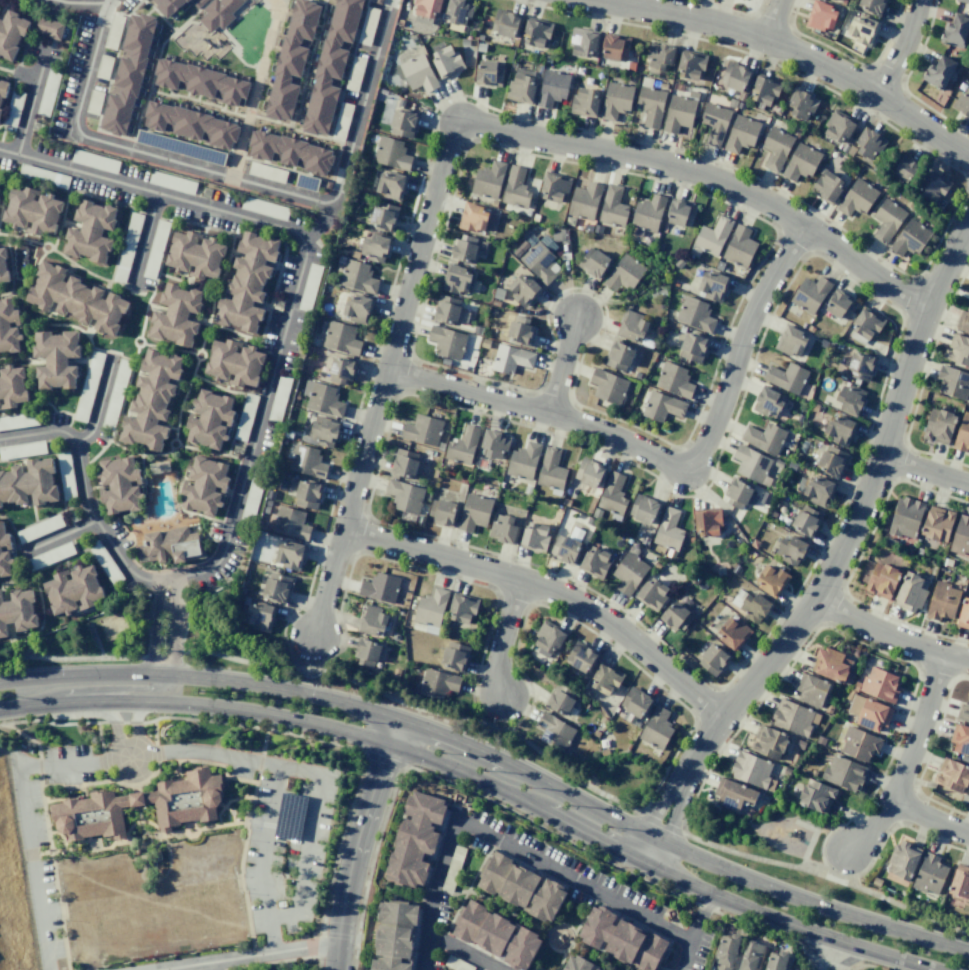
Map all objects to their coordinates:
road: (274, 0)
road: (320, 1)
building: (964, 1)
road: (82, 2)
road: (151, 5)
building: (167, 6)
building: (871, 6)
road: (732, 9)
building: (425, 10)
building: (459, 11)
building: (217, 13)
building: (821, 15)
road: (772, 20)
building: (505, 23)
building: (49, 28)
building: (861, 30)
building: (955, 31)
building: (536, 33)
building: (11, 35)
building: (583, 43)
building: (615, 47)
road: (900, 49)
road: (796, 52)
road: (750, 54)
building: (660, 56)
road: (849, 58)
building: (290, 60)
road: (308, 61)
building: (446, 61)
road: (155, 65)
building: (690, 65)
building: (330, 67)
building: (938, 72)
building: (128, 73)
building: (418, 73)
building: (489, 73)
building: (734, 76)
building: (199, 80)
road: (903, 81)
building: (522, 86)
road: (256, 88)
building: (552, 88)
building: (1, 90)
building: (764, 90)
building: (616, 100)
road: (31, 101)
road: (198, 101)
building: (584, 101)
building: (962, 103)
building: (651, 105)
building: (802, 105)
building: (680, 113)
building: (402, 123)
building: (715, 123)
building: (191, 124)
building: (839, 127)
road: (296, 131)
building: (741, 133)
road: (456, 135)
building: (870, 144)
building: (775, 148)
building: (290, 152)
building: (391, 153)
building: (801, 162)
building: (904, 168)
road: (289, 169)
road: (239, 179)
building: (488, 180)
building: (306, 182)
building: (390, 185)
building: (828, 187)
building: (932, 187)
building: (515, 188)
building: (554, 188)
building: (857, 198)
building: (584, 201)
building: (613, 207)
building: (31, 209)
building: (648, 213)
building: (680, 213)
building: (383, 216)
building: (476, 219)
building: (887, 220)
building: (90, 231)
building: (713, 236)
building: (910, 238)
road: (21, 239)
road: (144, 241)
building: (739, 247)
building: (373, 248)
building: (464, 248)
road: (45, 249)
building: (193, 253)
building: (536, 259)
road: (10, 262)
building: (594, 262)
building: (3, 265)
building: (624, 273)
building: (357, 277)
building: (457, 279)
building: (247, 282)
building: (0, 283)
road: (120, 283)
road: (218, 283)
building: (712, 285)
building: (523, 289)
building: (810, 294)
building: (74, 299)
building: (839, 304)
building: (356, 308)
building: (447, 309)
building: (695, 314)
building: (176, 315)
building: (963, 321)
building: (865, 325)
building: (3, 326)
road: (72, 326)
building: (632, 327)
building: (809, 328)
building: (519, 330)
building: (341, 338)
building: (791, 340)
building: (447, 342)
road: (137, 343)
building: (823, 343)
road: (168, 347)
building: (692, 347)
building: (958, 349)
road: (198, 356)
building: (619, 356)
building: (511, 358)
building: (55, 359)
building: (233, 361)
building: (860, 365)
road: (565, 367)
building: (341, 370)
building: (786, 377)
building: (674, 380)
road: (920, 382)
building: (953, 382)
building: (12, 383)
road: (220, 386)
building: (608, 387)
building: (322, 399)
building: (849, 400)
road: (99, 401)
building: (767, 402)
building: (151, 403)
road: (264, 404)
building: (662, 406)
building: (814, 407)
road: (179, 411)
building: (799, 418)
building: (209, 420)
building: (939, 425)
building: (839, 429)
building: (422, 430)
building: (321, 433)
building: (962, 433)
building: (764, 437)
road: (169, 442)
building: (494, 443)
building: (463, 445)
building: (441, 446)
road: (169, 451)
building: (523, 460)
building: (831, 461)
building: (307, 462)
building: (403, 463)
building: (750, 463)
building: (778, 463)
road: (668, 464)
building: (791, 466)
building: (551, 471)
road: (924, 471)
building: (589, 472)
building: (462, 480)
building: (27, 482)
building: (118, 484)
building: (204, 485)
building: (527, 489)
building: (816, 489)
building: (306, 492)
building: (738, 493)
building: (270, 495)
building: (404, 495)
road: (688, 496)
building: (612, 497)
building: (764, 498)
building: (267, 502)
building: (565, 502)
building: (644, 508)
building: (265, 509)
building: (442, 512)
building: (474, 512)
building: (596, 513)
building: (770, 514)
building: (905, 517)
building: (782, 518)
building: (589, 521)
building: (706, 521)
building: (805, 521)
building: (290, 523)
building: (937, 523)
building: (261, 524)
building: (503, 529)
building: (668, 532)
building: (4, 536)
building: (960, 536)
road: (59, 537)
building: (534, 537)
building: (644, 541)
building: (890, 542)
building: (754, 543)
building: (171, 545)
building: (567, 546)
building: (790, 550)
building: (919, 551)
building: (290, 554)
road: (835, 561)
building: (594, 562)
road: (855, 562)
building: (946, 562)
building: (4, 564)
building: (735, 568)
building: (720, 570)
building: (628, 573)
road: (455, 579)
building: (694, 579)
building: (968, 579)
building: (771, 580)
building: (881, 580)
building: (276, 587)
building: (380, 587)
building: (241, 590)
road: (548, 590)
building: (75, 592)
building: (911, 592)
building: (651, 594)
building: (245, 600)
building: (685, 601)
building: (942, 601)
building: (752, 604)
building: (461, 608)
building: (18, 610)
building: (429, 611)
building: (964, 615)
building: (259, 616)
building: (675, 616)
building: (371, 620)
road: (285, 623)
road: (152, 627)
road: (175, 628)
building: (732, 633)
road: (889, 636)
road: (501, 637)
building: (548, 637)
building: (366, 652)
building: (454, 656)
building: (581, 656)
building: (713, 659)
road: (323, 662)
road: (306, 666)
building: (832, 666)
building: (605, 678)
road: (203, 679)
building: (437, 683)
building: (855, 685)
building: (879, 685)
building: (811, 689)
building: (849, 695)
building: (559, 699)
building: (635, 703)
road: (88, 704)
road: (8, 709)
building: (828, 709)
building: (963, 711)
road: (750, 713)
building: (869, 713)
road: (524, 714)
building: (793, 717)
building: (656, 728)
road: (341, 731)
building: (554, 731)
road: (139, 732)
road: (114, 734)
building: (960, 738)
building: (820, 740)
building: (769, 741)
building: (858, 743)
building: (800, 744)
road: (477, 749)
road: (926, 755)
road: (907, 758)
building: (964, 759)
building: (751, 770)
building: (786, 771)
building: (813, 772)
building: (843, 773)
building: (952, 774)
road: (598, 792)
building: (732, 794)
building: (816, 795)
building: (765, 797)
building: (963, 799)
building: (136, 810)
road: (639, 812)
road: (673, 813)
road: (27, 814)
road: (928, 819)
road: (659, 823)
road: (578, 830)
road: (682, 831)
park: (765, 833)
road: (884, 836)
building: (415, 837)
road: (308, 840)
road: (361, 842)
building: (902, 859)
road: (537, 861)
building: (929, 874)
road: (834, 876)
building: (876, 881)
building: (960, 881)
road: (754, 882)
building: (522, 886)
road: (468, 887)
road: (495, 903)
road: (586, 914)
road: (700, 917)
road: (786, 923)
road: (772, 933)
building: (395, 935)
road: (274, 936)
building: (498, 936)
building: (626, 941)
road: (427, 949)
road: (467, 949)
road: (558, 950)
building: (726, 952)
road: (830, 955)
building: (750, 956)
road: (254, 957)
road: (560, 960)
building: (776, 961)
building: (583, 964)
road: (210, 967)
building: (787, 969)

